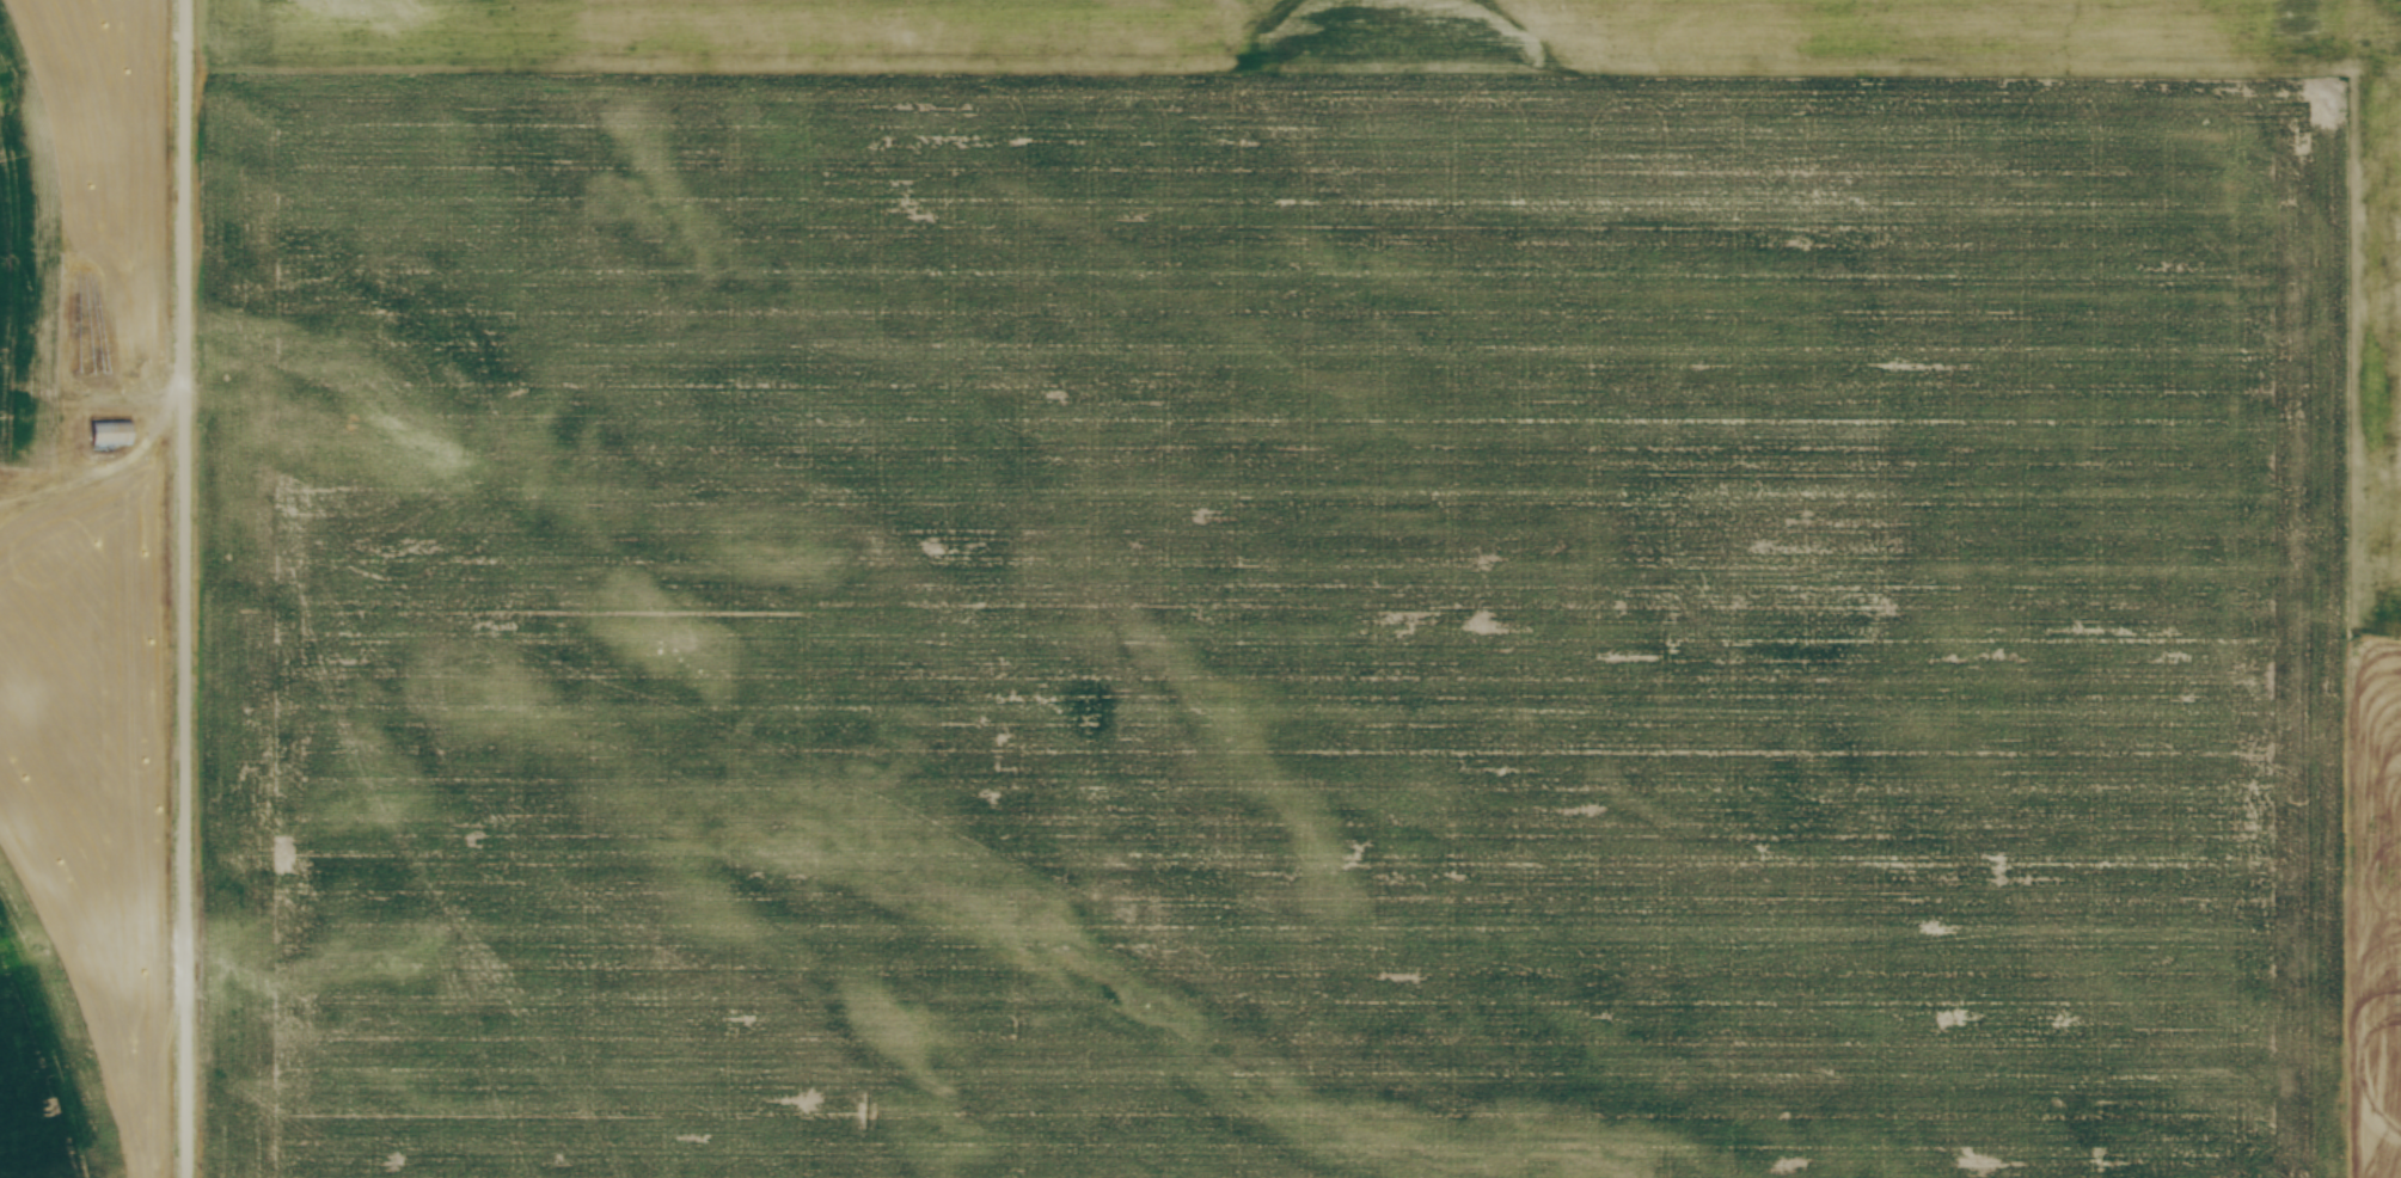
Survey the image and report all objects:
crop: (82, 177)
building: (106, 434)
crop: (1311, 446)
road: (100, 467)
road: (182, 588)
crop: (82, 836)

